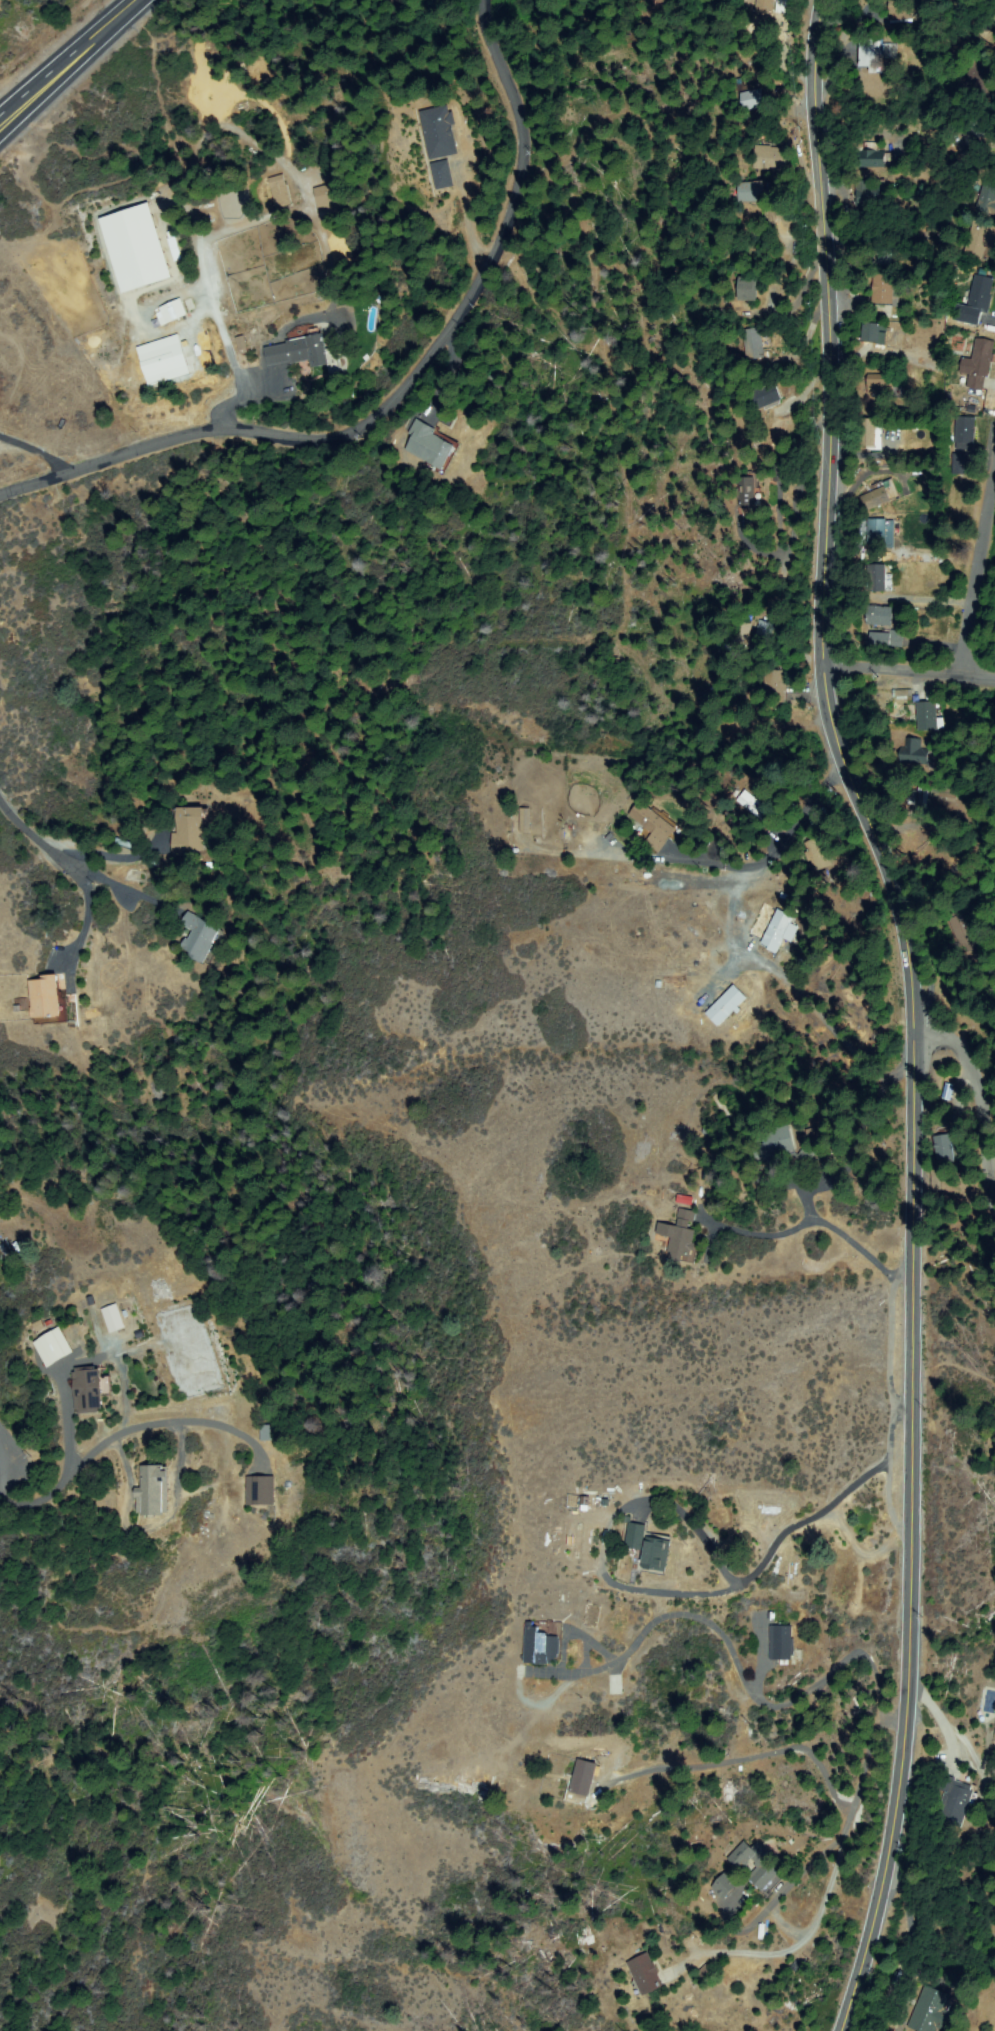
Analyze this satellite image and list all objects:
building: (763, 6)
building: (900, 11)
road: (103, 28)
building: (870, 54)
building: (982, 77)
road: (45, 83)
building: (751, 99)
road: (9, 115)
road: (9, 118)
building: (980, 128)
building: (437, 133)
building: (768, 158)
building: (875, 160)
building: (440, 175)
building: (280, 191)
building: (758, 192)
building: (872, 194)
building: (328, 198)
building: (988, 199)
building: (980, 240)
building: (136, 248)
building: (883, 253)
building: (747, 289)
building: (886, 291)
building: (976, 302)
building: (172, 311)
building: (873, 333)
building: (753, 343)
building: (298, 352)
building: (159, 359)
building: (977, 364)
building: (883, 387)
road: (405, 389)
building: (764, 396)
building: (866, 432)
building: (964, 434)
building: (432, 446)
road: (36, 454)
building: (960, 465)
building: (749, 496)
building: (874, 499)
building: (878, 534)
road: (980, 572)
building: (877, 579)
building: (878, 618)
building: (765, 628)
building: (744, 635)
building: (885, 639)
building: (908, 645)
road: (910, 672)
building: (775, 684)
building: (901, 695)
building: (928, 715)
building: (744, 729)
building: (911, 753)
building: (873, 767)
building: (942, 792)
building: (915, 801)
building: (754, 807)
building: (524, 821)
building: (653, 826)
road: (25, 828)
building: (190, 831)
building: (817, 853)
building: (962, 930)
building: (781, 931)
building: (202, 938)
building: (47, 1001)
building: (727, 1006)
road: (914, 1011)
road: (955, 1034)
building: (775, 1145)
building: (943, 1148)
building: (807, 1155)
building: (830, 1160)
building: (680, 1237)
building: (113, 1318)
building: (54, 1347)
building: (90, 1389)
building: (272, 1433)
road: (108, 1434)
road: (3, 1453)
building: (153, 1491)
building: (261, 1491)
building: (649, 1549)
building: (782, 1644)
building: (542, 1647)
building: (583, 1778)
building: (955, 1800)
building: (740, 1863)
road: (958, 1876)
building: (725, 1886)
building: (646, 1974)
building: (931, 2011)

